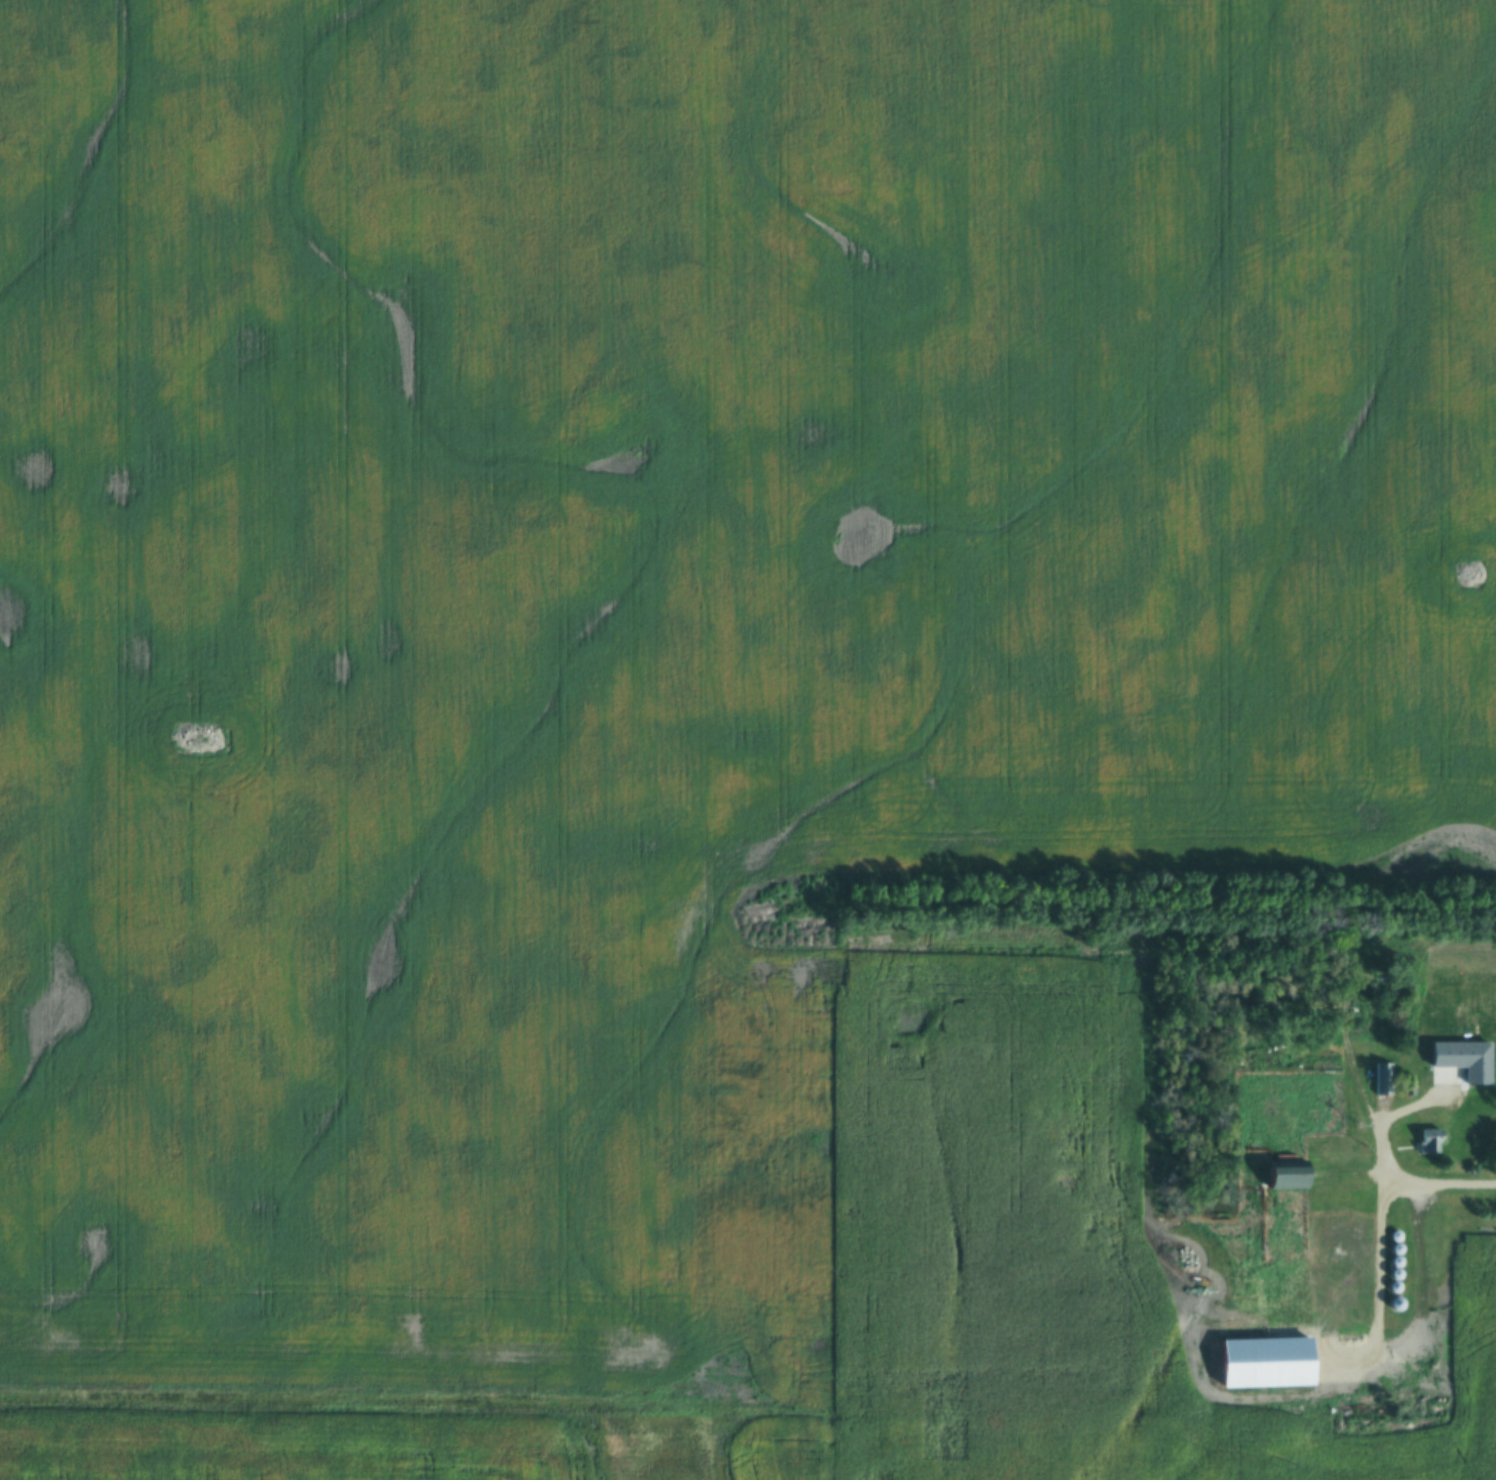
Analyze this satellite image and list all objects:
building: (1383, 1078)
building: (1432, 1140)
building: (1291, 1174)
road: (1441, 1186)

